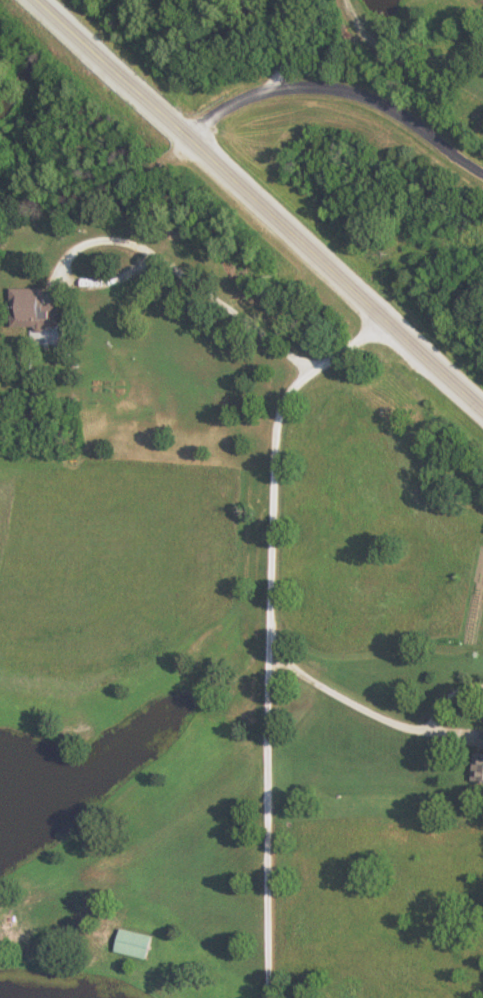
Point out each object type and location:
road: (280, 46)
road: (341, 92)
road: (257, 224)
road: (114, 278)
building: (38, 316)
road: (185, 613)
building: (482, 762)
building: (139, 944)

